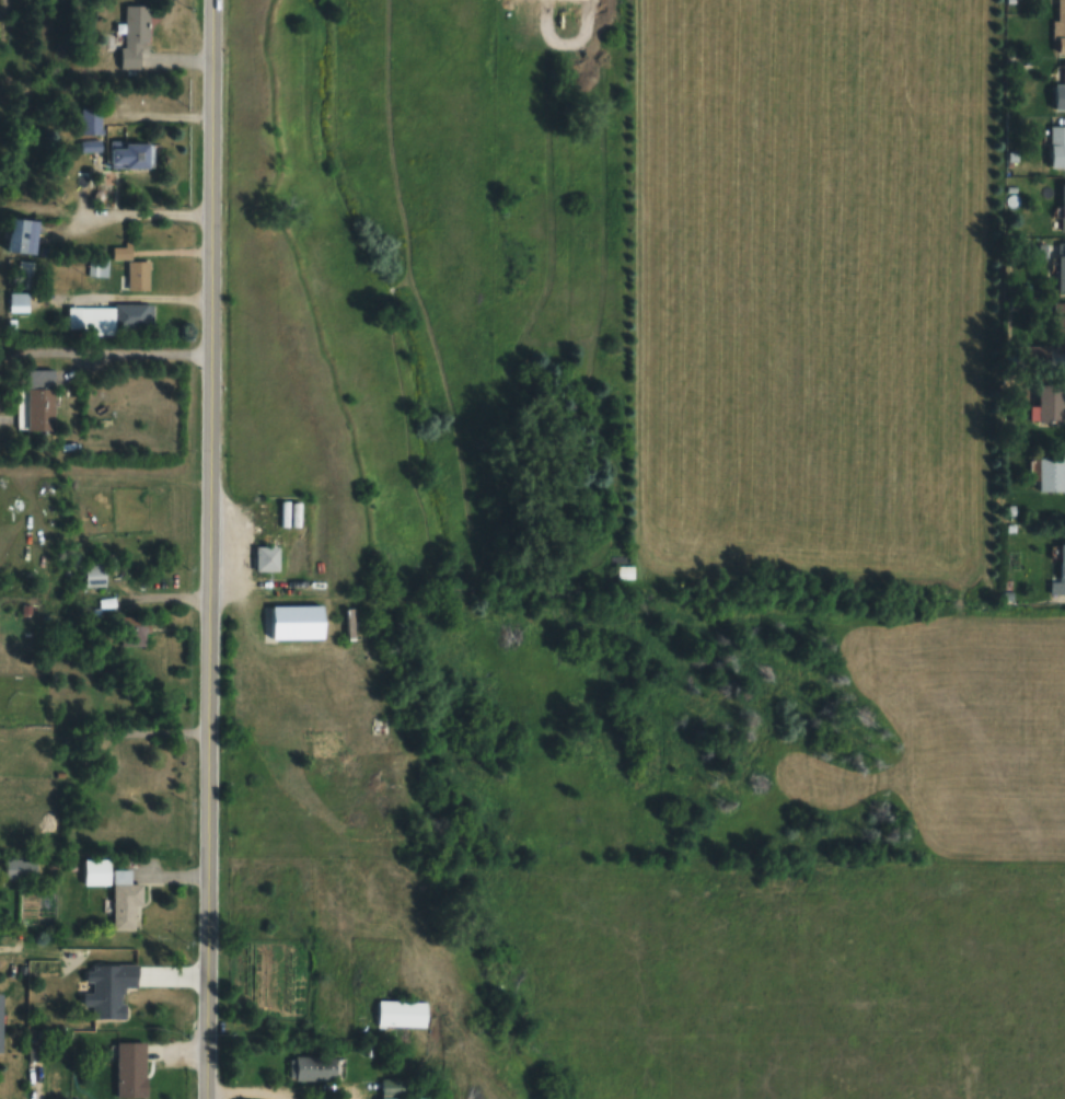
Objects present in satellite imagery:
building: (1060, 24)
building: (135, 34)
building: (1061, 93)
building: (91, 119)
building: (90, 143)
building: (1056, 146)
building: (130, 153)
building: (1063, 206)
building: (20, 234)
road: (208, 241)
building: (1062, 267)
building: (138, 275)
crop: (807, 285)
building: (111, 319)
building: (40, 400)
building: (1051, 402)
building: (1052, 473)
building: (291, 513)
building: (269, 553)
building: (1063, 562)
building: (622, 568)
building: (297, 622)
building: (134, 627)
building: (132, 754)
road: (207, 790)
building: (0, 868)
building: (96, 872)
building: (125, 901)
road: (28, 947)
building: (111, 988)
building: (403, 1013)
building: (1, 1020)
building: (313, 1067)
building: (131, 1068)
building: (398, 1088)

